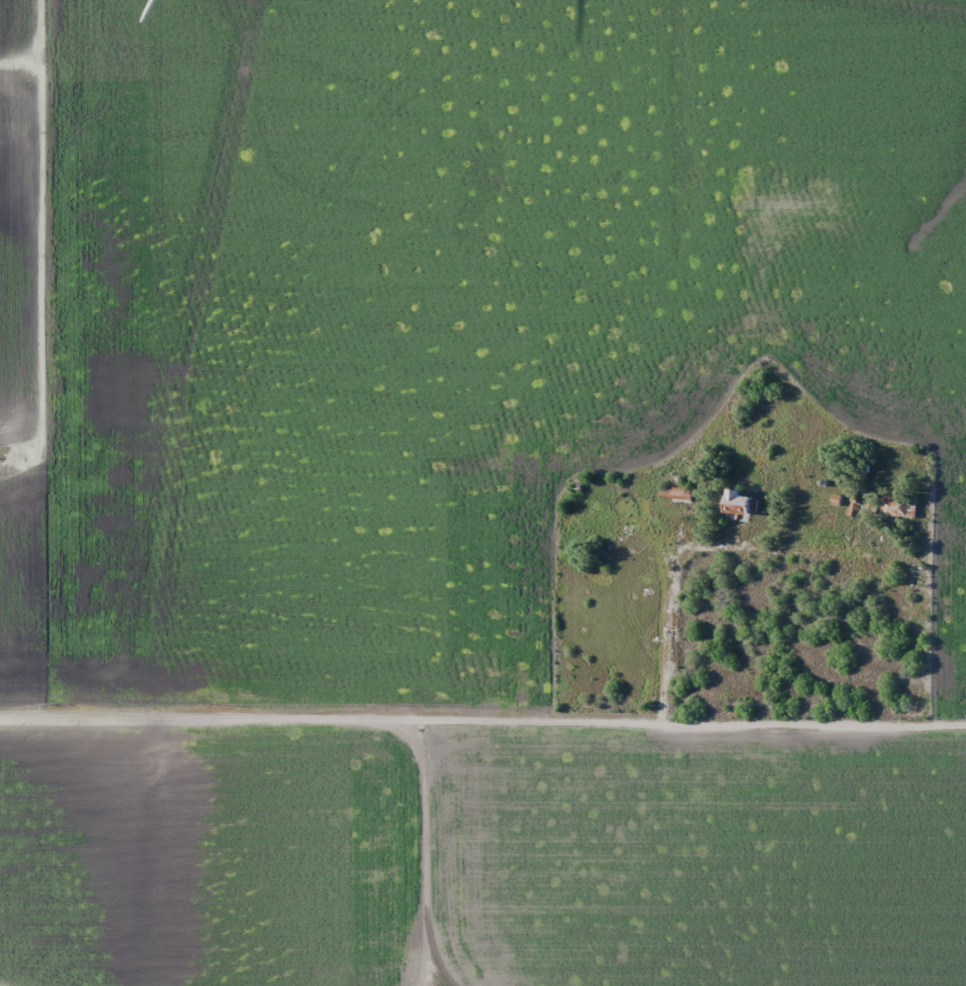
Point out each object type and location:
road: (50, 50)
road: (34, 250)
building: (675, 495)
building: (899, 504)
building: (738, 505)
road: (705, 573)
road: (483, 731)

